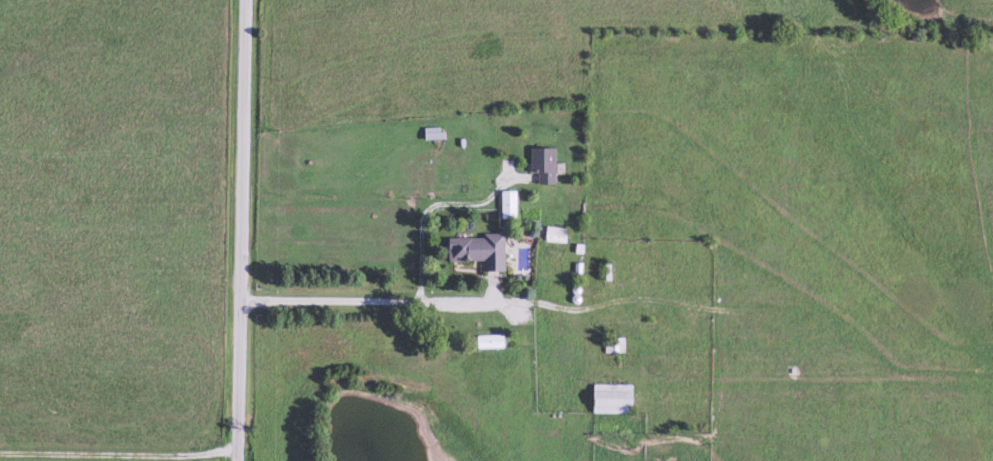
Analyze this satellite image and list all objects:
building: (431, 134)
building: (506, 205)
road: (233, 230)
building: (554, 235)
building: (475, 251)
road: (365, 297)
building: (487, 342)
building: (613, 347)
building: (608, 399)

